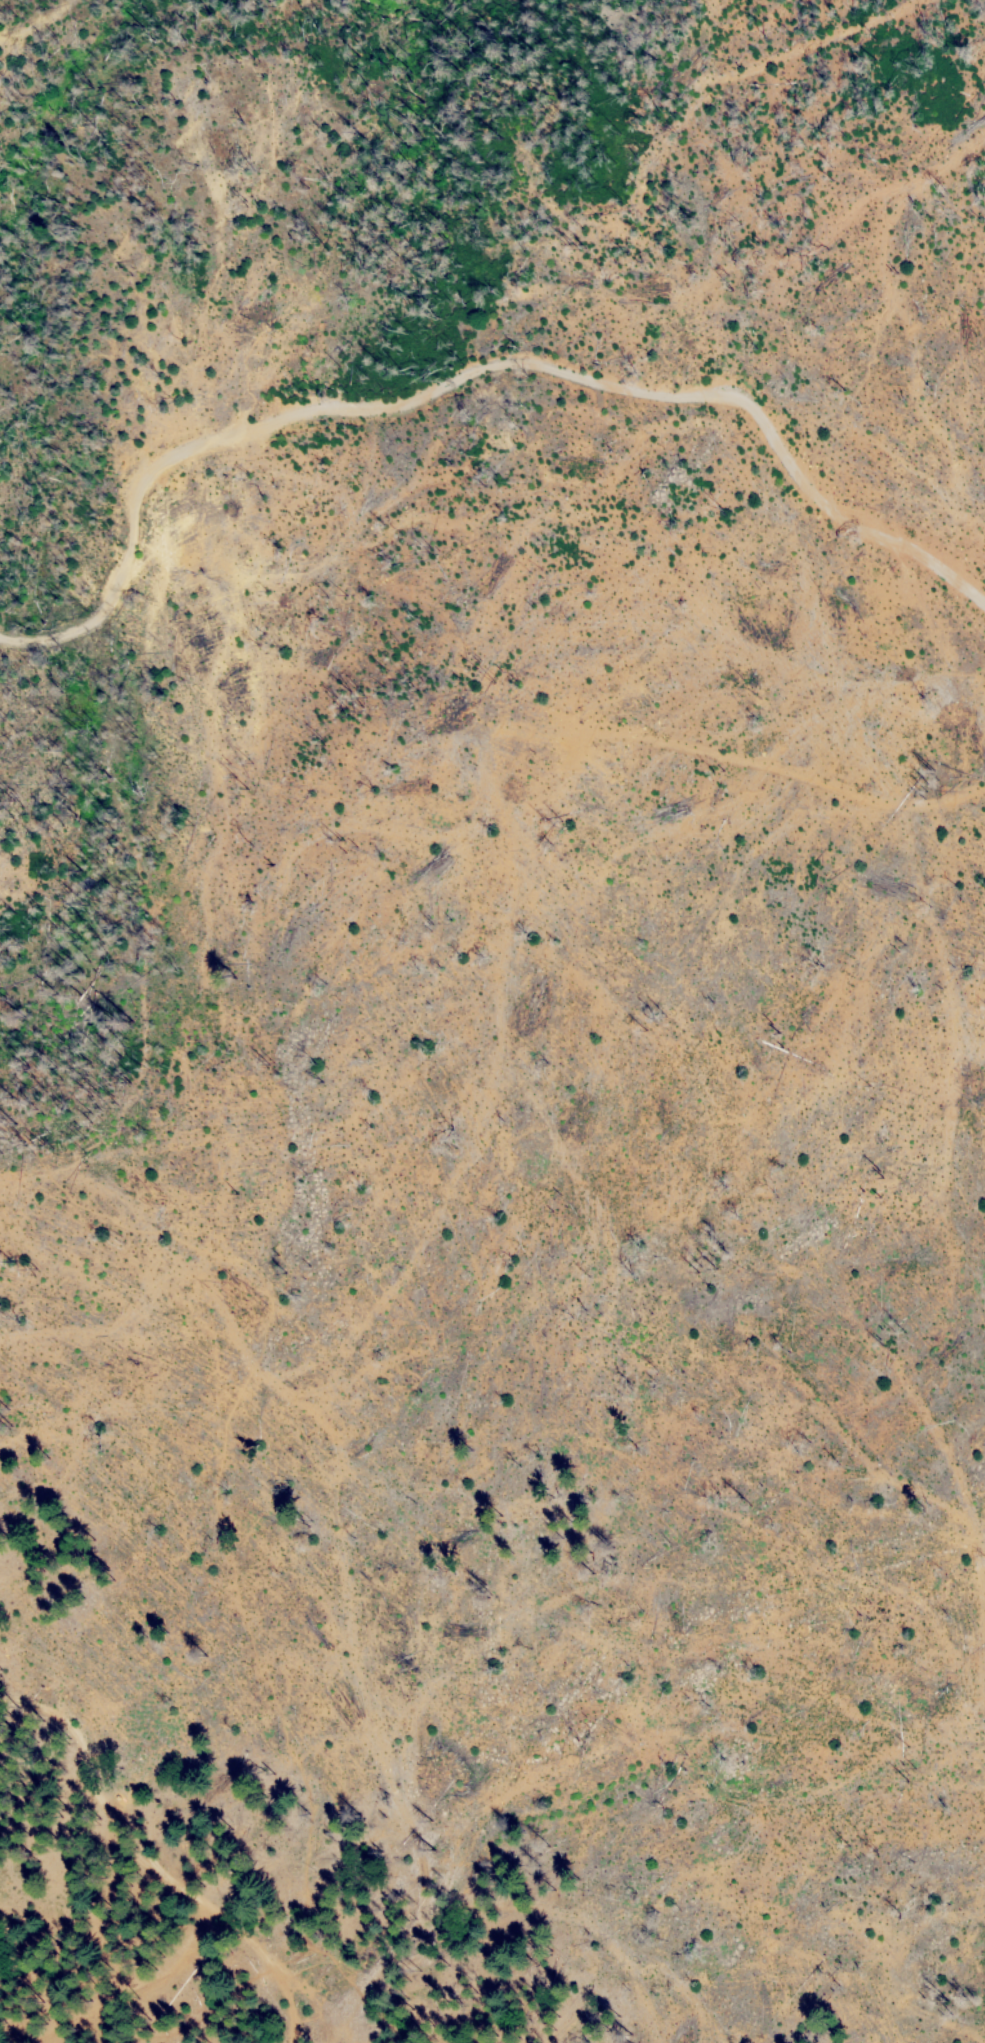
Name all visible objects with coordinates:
road: (476, 374)
road: (218, 1459)
road: (158, 1865)
road: (294, 1956)
road: (370, 1995)
road: (145, 2036)

